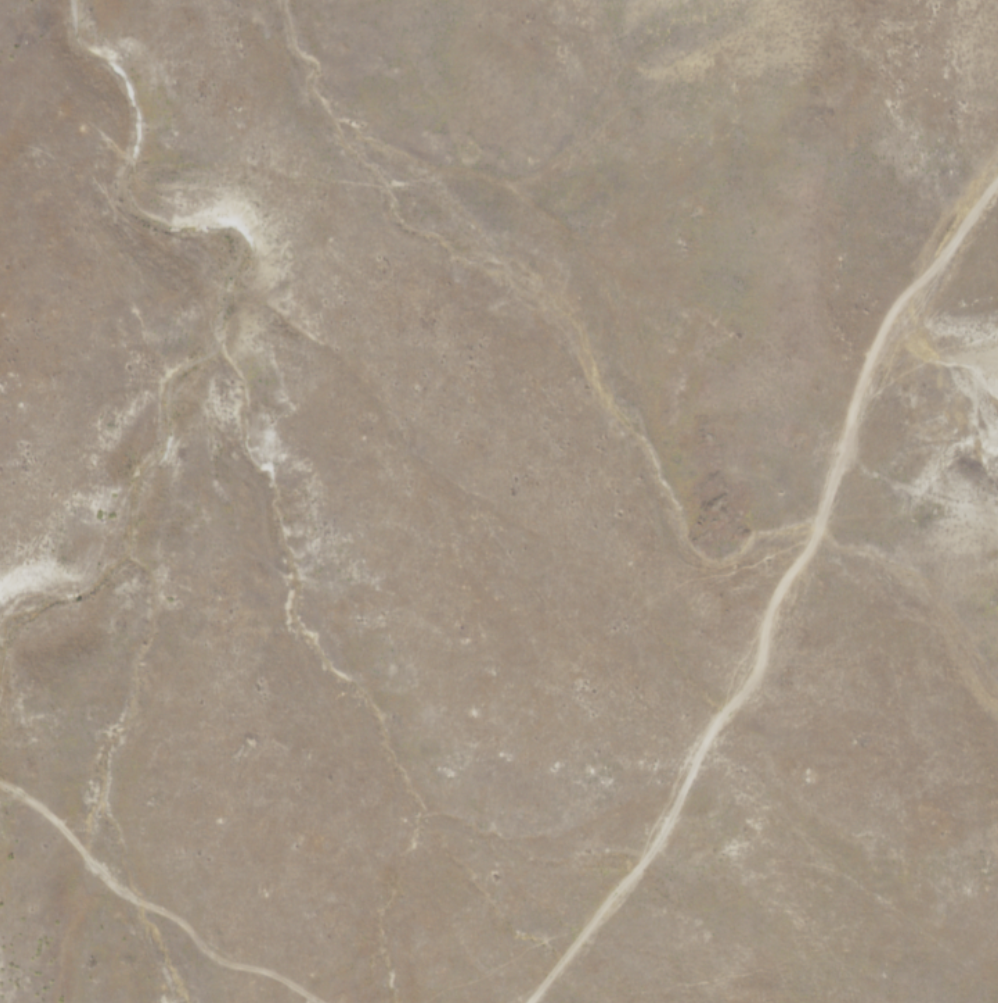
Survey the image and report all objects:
road: (775, 597)
road: (152, 906)

